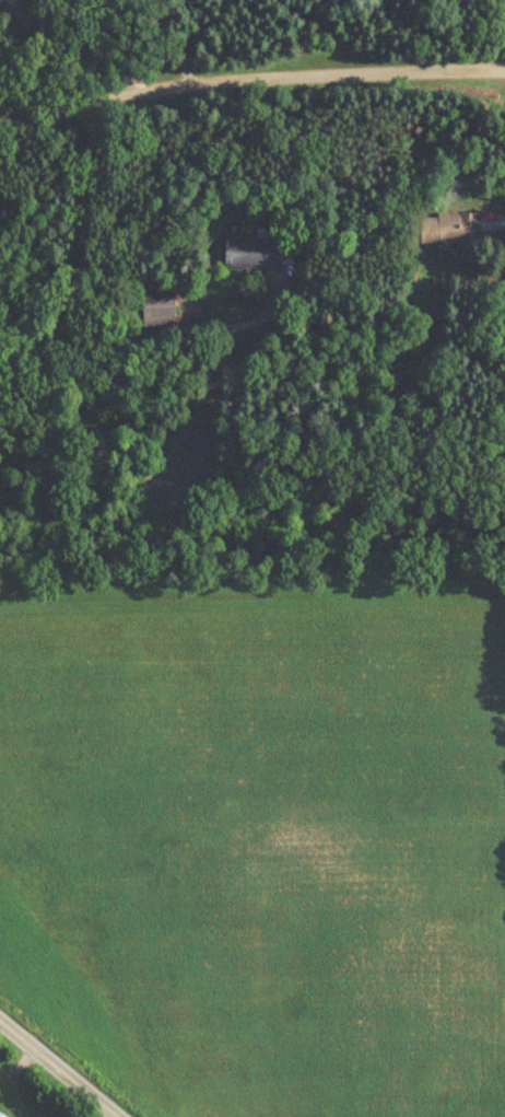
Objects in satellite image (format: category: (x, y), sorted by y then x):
road: (251, 80)
road: (503, 217)
building: (448, 228)
building: (251, 254)
building: (156, 306)
road: (58, 1069)
building: (0, 1116)

